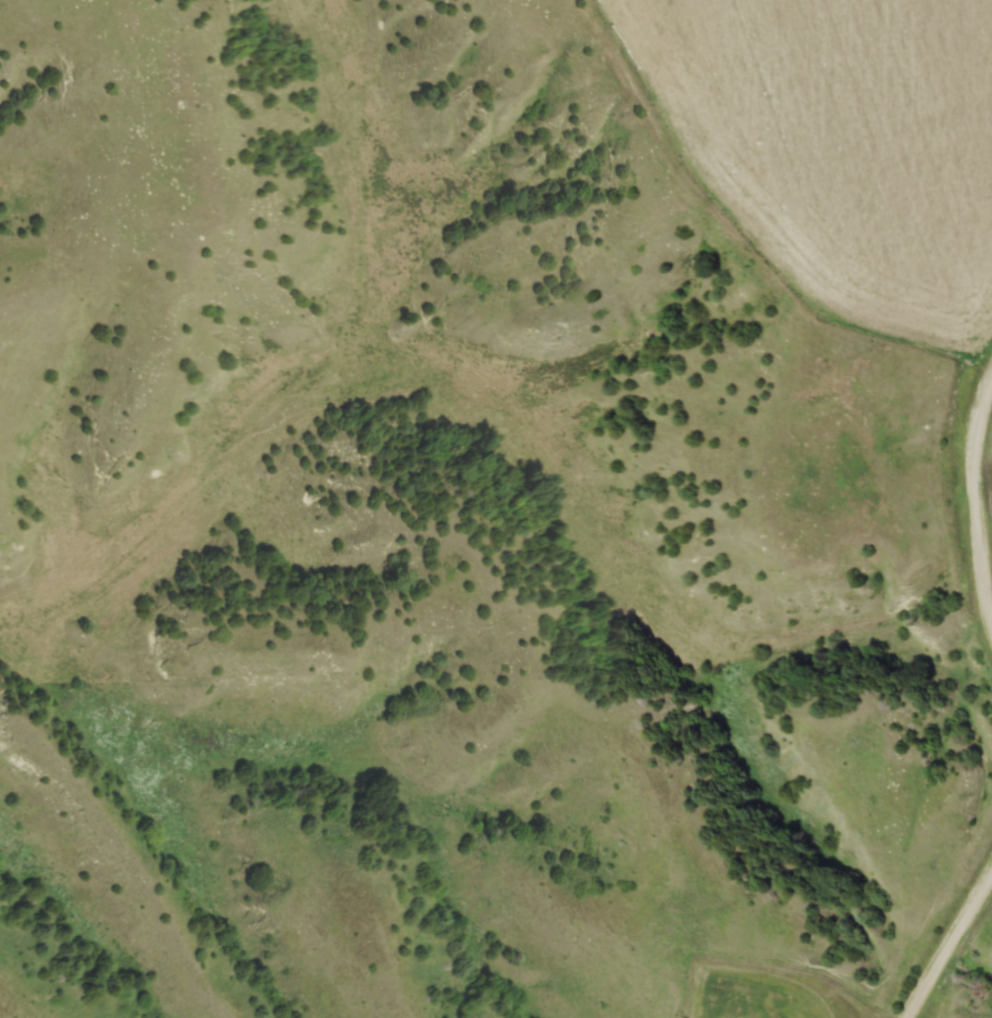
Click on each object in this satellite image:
road: (975, 499)
road: (948, 945)

